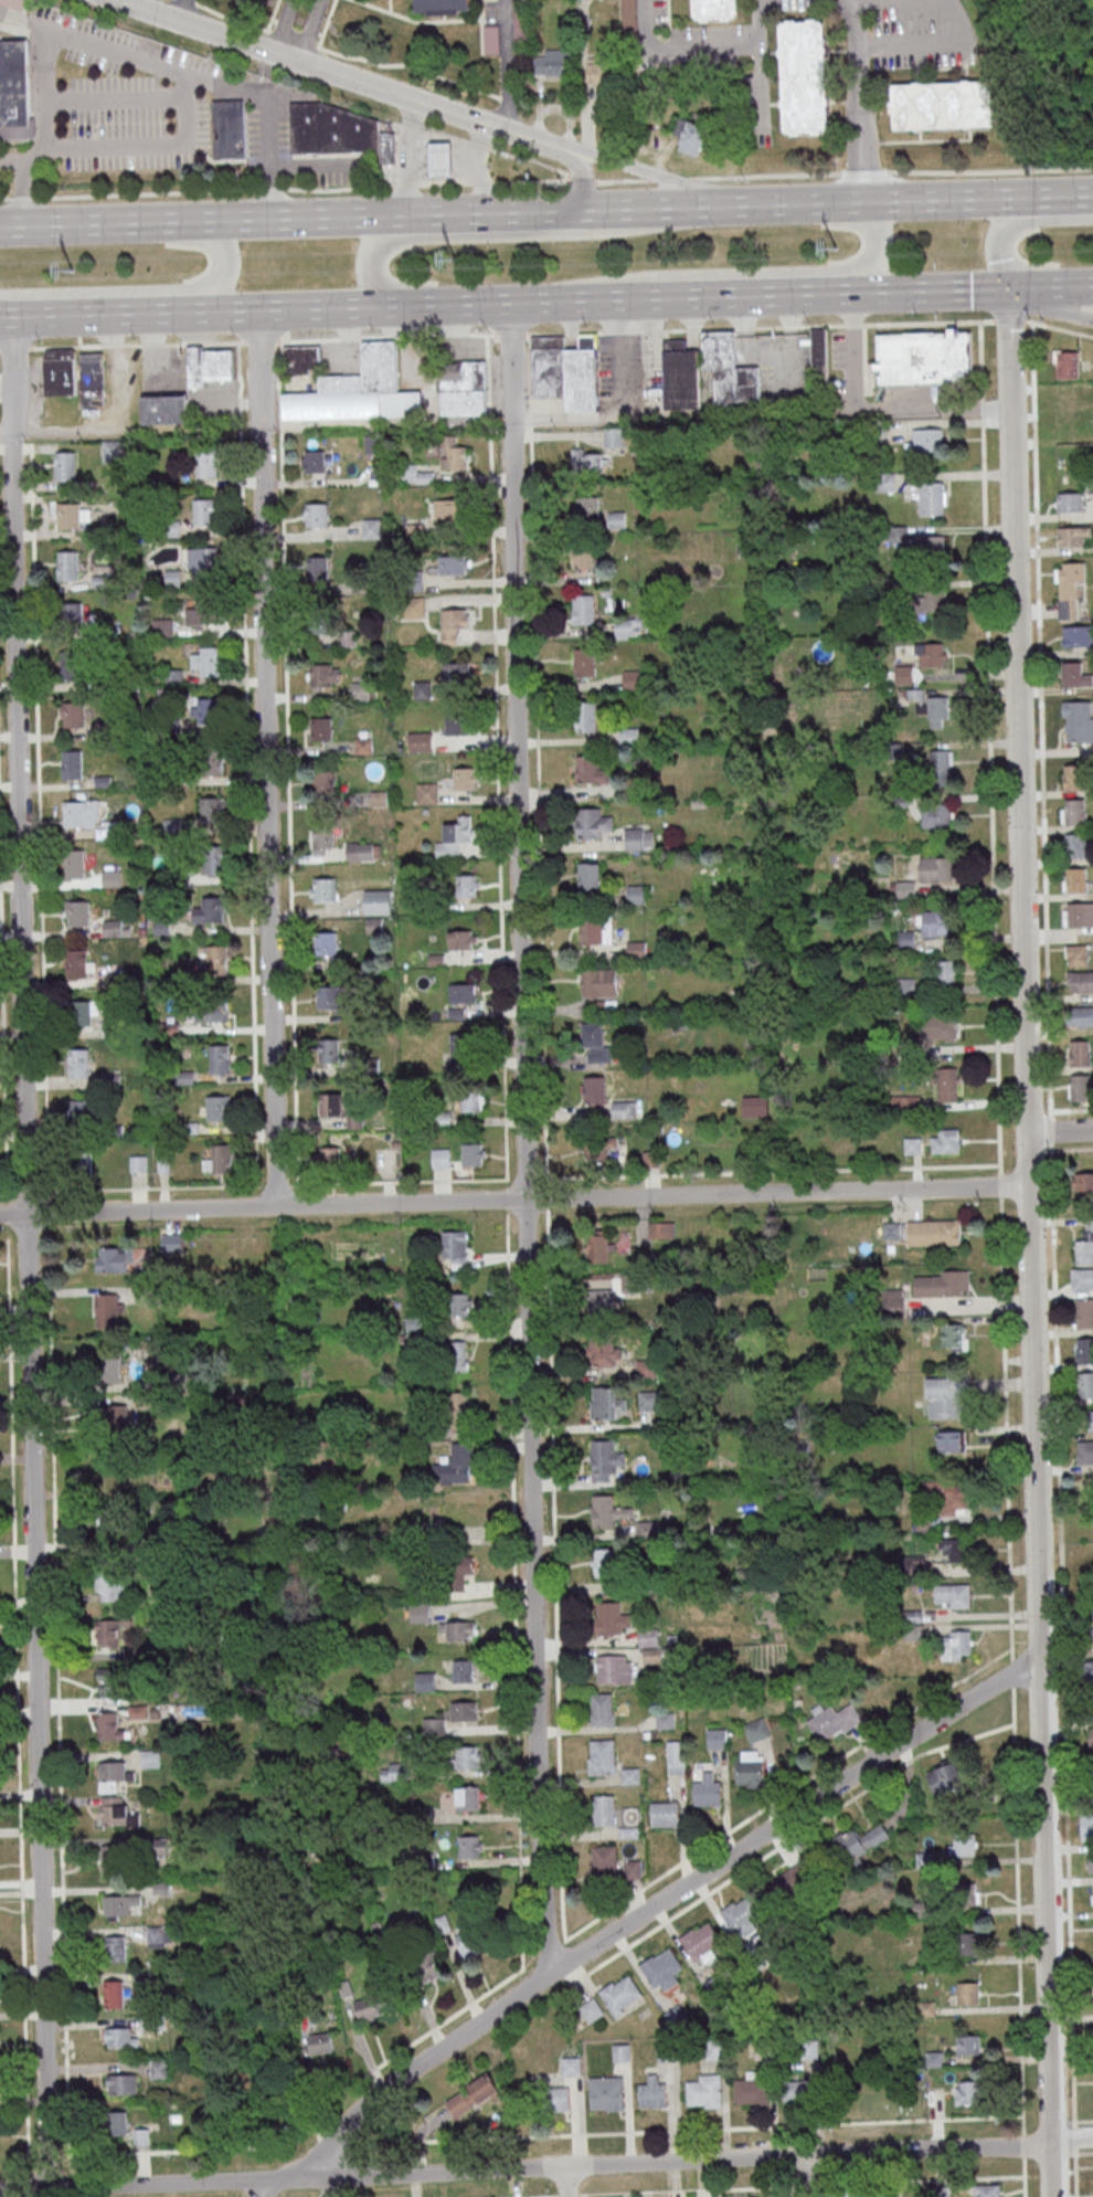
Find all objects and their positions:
road: (848, 0)
building: (15, 2)
building: (439, 4)
road: (505, 7)
building: (717, 10)
road: (189, 12)
building: (629, 13)
road: (282, 25)
road: (310, 31)
building: (491, 38)
road: (925, 42)
road: (703, 45)
building: (553, 62)
building: (601, 70)
road: (506, 71)
road: (344, 75)
road: (192, 76)
building: (806, 76)
building: (640, 83)
building: (14, 89)
road: (116, 98)
road: (861, 98)
building: (948, 104)
road: (415, 125)
building: (229, 127)
building: (331, 128)
road: (46, 130)
road: (444, 135)
building: (692, 135)
road: (145, 144)
road: (425, 144)
road: (438, 144)
road: (450, 144)
building: (386, 147)
road: (479, 147)
road: (459, 149)
road: (420, 151)
road: (406, 155)
road: (587, 155)
road: (457, 156)
road: (474, 156)
road: (438, 157)
road: (411, 158)
road: (421, 158)
building: (438, 158)
road: (529, 160)
road: (459, 163)
road: (420, 166)
road: (480, 166)
road: (988, 170)
road: (438, 172)
road: (450, 172)
road: (425, 173)
road: (861, 173)
road: (766, 177)
road: (579, 178)
road: (580, 179)
road: (670, 180)
road: (529, 181)
road: (619, 181)
road: (673, 181)
road: (479, 182)
road: (579, 182)
road: (442, 183)
road: (404, 186)
road: (269, 191)
road: (337, 191)
road: (1059, 194)
road: (146, 196)
road: (2, 198)
road: (20, 198)
road: (803, 203)
road: (486, 211)
road: (197, 220)
road: (1015, 221)
road: (475, 234)
power tower: (836, 255)
traffic signals: (999, 261)
power tower: (455, 264)
road: (755, 271)
power tower: (73, 276)
road: (972, 288)
traffic signals: (1007, 288)
road: (146, 289)
traffic signals: (969, 289)
road: (751, 297)
road: (424, 305)
road: (1053, 308)
road: (104, 314)
road: (4, 316)
road: (1006, 319)
road: (1058, 327)
traffic signals: (1008, 329)
road: (495, 332)
building: (820, 349)
building: (924, 357)
building: (303, 359)
building: (209, 365)
building: (1064, 365)
building: (565, 370)
building: (730, 370)
building: (61, 371)
building: (681, 374)
building: (93, 378)
building: (464, 388)
building: (359, 391)
building: (166, 409)
road: (899, 409)
road: (394, 423)
building: (614, 436)
building: (926, 440)
building: (373, 443)
building: (114, 451)
building: (453, 453)
building: (587, 460)
building: (203, 462)
building: (311, 462)
building: (65, 465)
building: (414, 473)
building: (932, 497)
building: (1068, 501)
building: (587, 508)
building: (448, 510)
building: (200, 511)
building: (73, 515)
building: (314, 515)
building: (617, 518)
building: (372, 527)
building: (1070, 535)
building: (934, 548)
building: (583, 554)
building: (204, 562)
building: (454, 563)
building: (68, 564)
building: (315, 568)
building: (173, 577)
building: (1065, 587)
building: (414, 605)
building: (584, 608)
building: (203, 612)
building: (72, 614)
building: (316, 622)
building: (454, 624)
building: (163, 626)
building: (628, 627)
building: (1076, 635)
building: (349, 637)
building: (931, 654)
building: (208, 661)
building: (584, 661)
building: (71, 667)
building: (457, 672)
building: (1069, 674)
building: (318, 675)
building: (173, 676)
building: (423, 689)
building: (364, 690)
building: (210, 709)
building: (938, 710)
road: (1016, 710)
building: (74, 714)
building: (582, 714)
road: (1038, 719)
building: (1076, 722)
building: (457, 725)
building: (320, 727)
building: (632, 736)
building: (420, 741)
building: (363, 744)
road: (267, 758)
building: (214, 761)
building: (72, 763)
building: (585, 767)
building: (941, 767)
building: (1071, 777)
building: (465, 778)
building: (321, 781)
building: (427, 792)
building: (210, 809)
building: (1070, 812)
building: (82, 813)
building: (937, 815)
building: (594, 822)
building: (174, 825)
building: (322, 835)
building: (456, 837)
building: (639, 838)
building: (1072, 845)
building: (363, 851)
building: (214, 859)
building: (74, 863)
building: (936, 867)
building: (587, 873)
building: (113, 874)
building: (1072, 879)
building: (468, 885)
building: (323, 888)
building: (906, 888)
building: (379, 900)
building: (211, 909)
building: (78, 912)
building: (1078, 915)
building: (935, 922)
building: (114, 927)
building: (595, 929)
building: (464, 939)
building: (325, 942)
building: (1075, 954)
building: (210, 959)
building: (79, 963)
building: (945, 972)
building: (1080, 980)
building: (906, 987)
building: (599, 990)
building: (463, 993)
building: (327, 996)
building: (212, 1010)
building: (86, 1011)
building: (1078, 1015)
building: (938, 1025)
building: (596, 1043)
building: (328, 1049)
building: (461, 1049)
building: (1078, 1053)
building: (219, 1058)
building: (79, 1061)
road: (2, 1084)
building: (947, 1084)
building: (1080, 1087)
building: (594, 1088)
building: (473, 1100)
building: (905, 1102)
building: (329, 1103)
building: (219, 1108)
building: (624, 1109)
building: (83, 1110)
road: (1048, 1129)
road: (1060, 1132)
road: (522, 1139)
building: (945, 1140)
building: (601, 1147)
building: (474, 1153)
building: (82, 1158)
building: (329, 1158)
building: (442, 1158)
building: (220, 1159)
building: (651, 1159)
building: (139, 1163)
building: (1083, 1181)
road: (198, 1186)
road: (513, 1198)
building: (1067, 1203)
building: (661, 1229)
building: (934, 1232)
building: (172, 1240)
building: (1085, 1243)
building: (599, 1245)
building: (456, 1248)
road: (28, 1251)
building: (113, 1261)
building: (1082, 1278)
building: (942, 1284)
building: (601, 1301)
building: (894, 1301)
building: (461, 1303)
building: (109, 1309)
building: (1084, 1312)
building: (955, 1335)
building: (1084, 1349)
building: (602, 1350)
building: (458, 1354)
building: (112, 1369)
building: (1085, 1384)
building: (946, 1397)
building: (649, 1399)
road: (1032, 1402)
building: (603, 1403)
road: (1002, 1406)
building: (458, 1409)
building: (113, 1413)
building: (1090, 1419)
building: (952, 1440)
building: (1084, 1450)
building: (602, 1458)
building: (112, 1465)
building: (456, 1465)
building: (109, 1478)
building: (1086, 1483)
building: (947, 1496)
building: (608, 1511)
building: (458, 1513)
building: (114, 1529)
building: (648, 1529)
building: (953, 1549)
building: (605, 1562)
building: (457, 1571)
building: (109, 1586)
building: (953, 1594)
building: (418, 1612)
building: (607, 1619)
building: (460, 1629)
building: (109, 1633)
road: (1065, 1633)
building: (649, 1636)
building: (956, 1645)
building: (614, 1668)
road: (1061, 1669)
building: (461, 1670)
building: (1086, 1670)
building: (109, 1677)
road: (514, 1692)
road: (924, 1700)
building: (601, 1709)
building: (139, 1711)
building: (463, 1711)
building: (665, 1719)
building: (834, 1720)
building: (757, 1729)
building: (110, 1730)
building: (717, 1737)
building: (1092, 1739)
building: (469, 1756)
building: (676, 1756)
building: (151, 1757)
building: (601, 1757)
building: (750, 1767)
building: (112, 1770)
building: (391, 1771)
building: (951, 1776)
building: (708, 1789)
building: (1092, 1792)
building: (470, 1797)
building: (604, 1809)
building: (114, 1813)
building: (666, 1813)
building: (1086, 1827)
building: (860, 1844)
building: (963, 1844)
building: (471, 1846)
building: (113, 1853)
building: (1090, 1861)
building: (603, 1863)
building: (792, 1883)
building: (965, 1889)
building: (1092, 1899)
road: (656, 1902)
building: (120, 1905)
building: (740, 1913)
road: (1046, 1933)
building: (161, 1935)
building: (700, 1940)
building: (468, 1941)
building: (968, 1943)
building: (115, 1947)
building: (428, 1964)
building: (660, 1966)
building: (114, 1993)
building: (968, 1993)
building: (622, 1994)
building: (368, 2008)
building: (592, 2009)
building: (676, 2014)
building: (121, 2036)
building: (318, 2042)
building: (969, 2043)
building: (810, 2048)
building: (717, 2050)
building: (622, 2051)
building: (665, 2051)
building: (572, 2066)
building: (124, 2083)
building: (753, 2088)
building: (800, 2089)
building: (705, 2090)
building: (654, 2091)
building: (968, 2092)
building: (607, 2093)
building: (474, 2094)
building: (558, 2099)
building: (118, 2122)
building: (141, 2135)
road: (1071, 2137)
road: (524, 2169)
road: (805, 2175)
road: (565, 2183)
road: (802, 2185)
road: (329, 2186)
road: (268, 2188)
building: (987, 2190)
building: (872, 2194)
road: (582, 2195)

